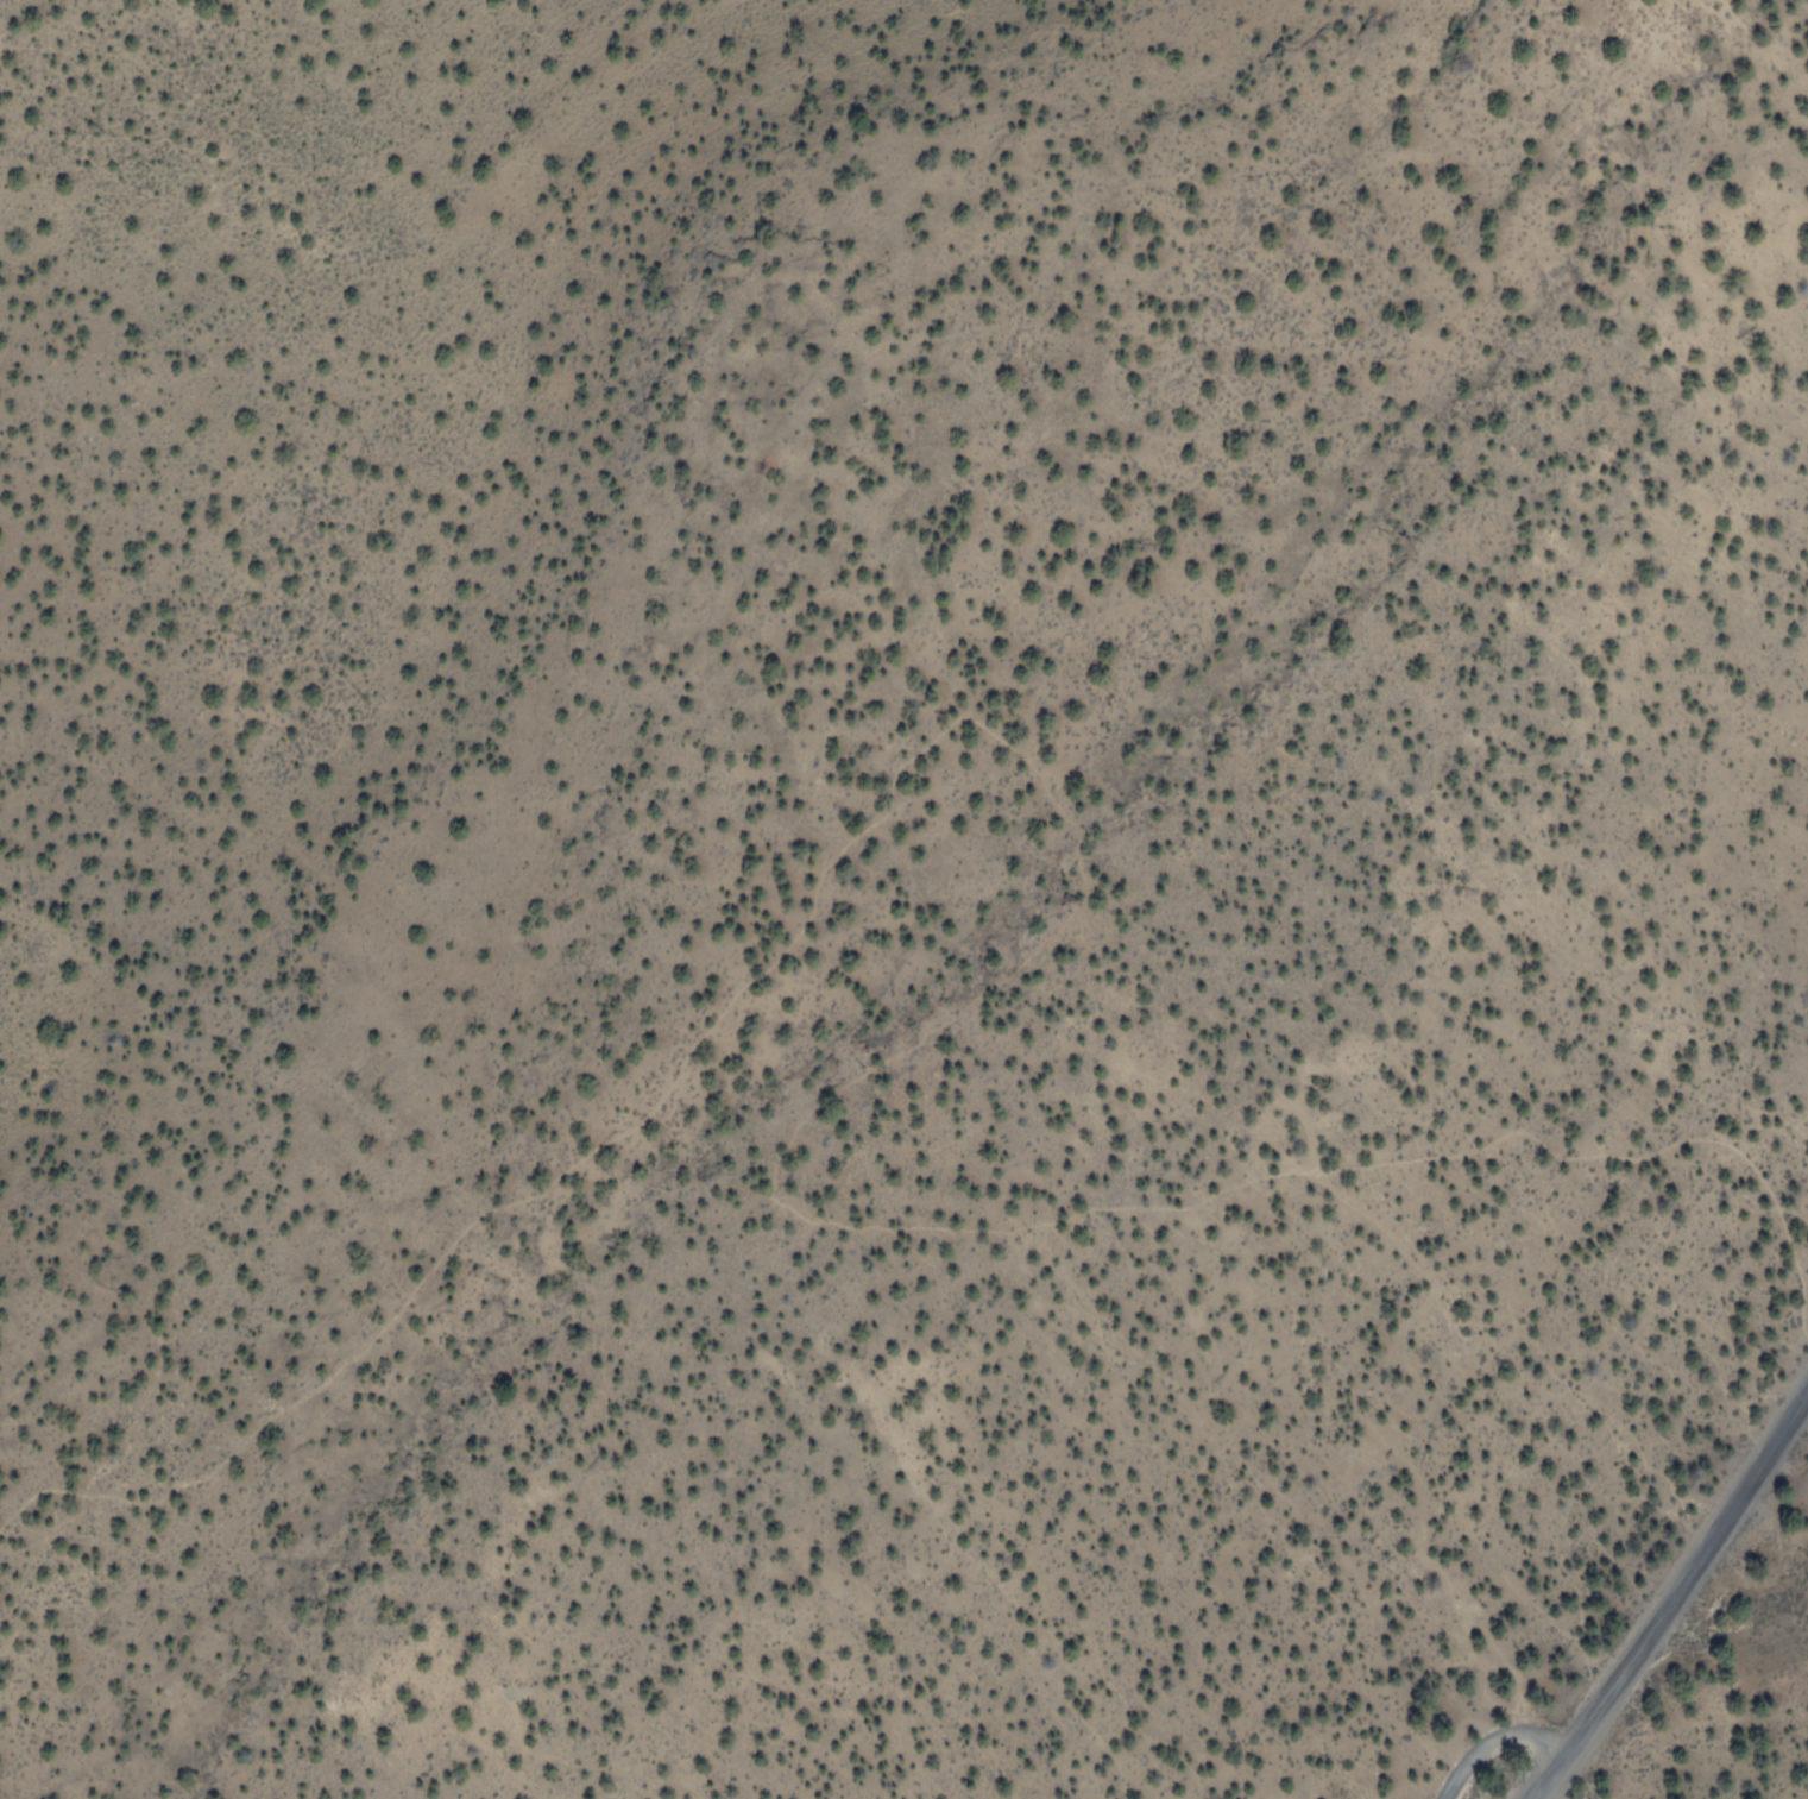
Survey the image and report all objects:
road: (1671, 1603)
road: (1491, 1737)

